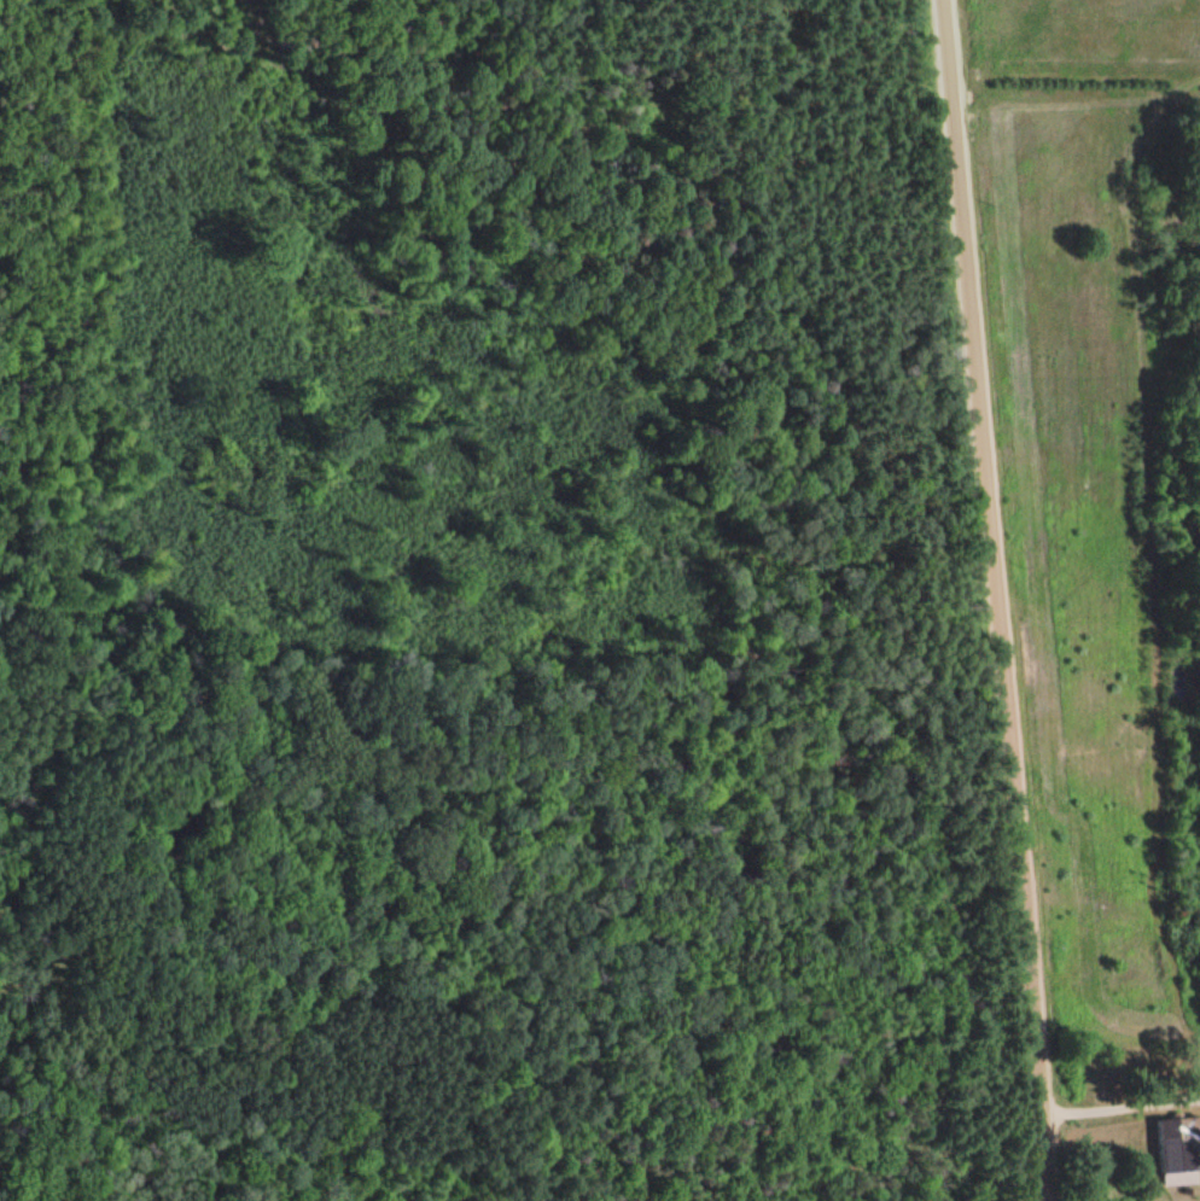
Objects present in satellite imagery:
road: (988, 600)
building: (1179, 1144)

